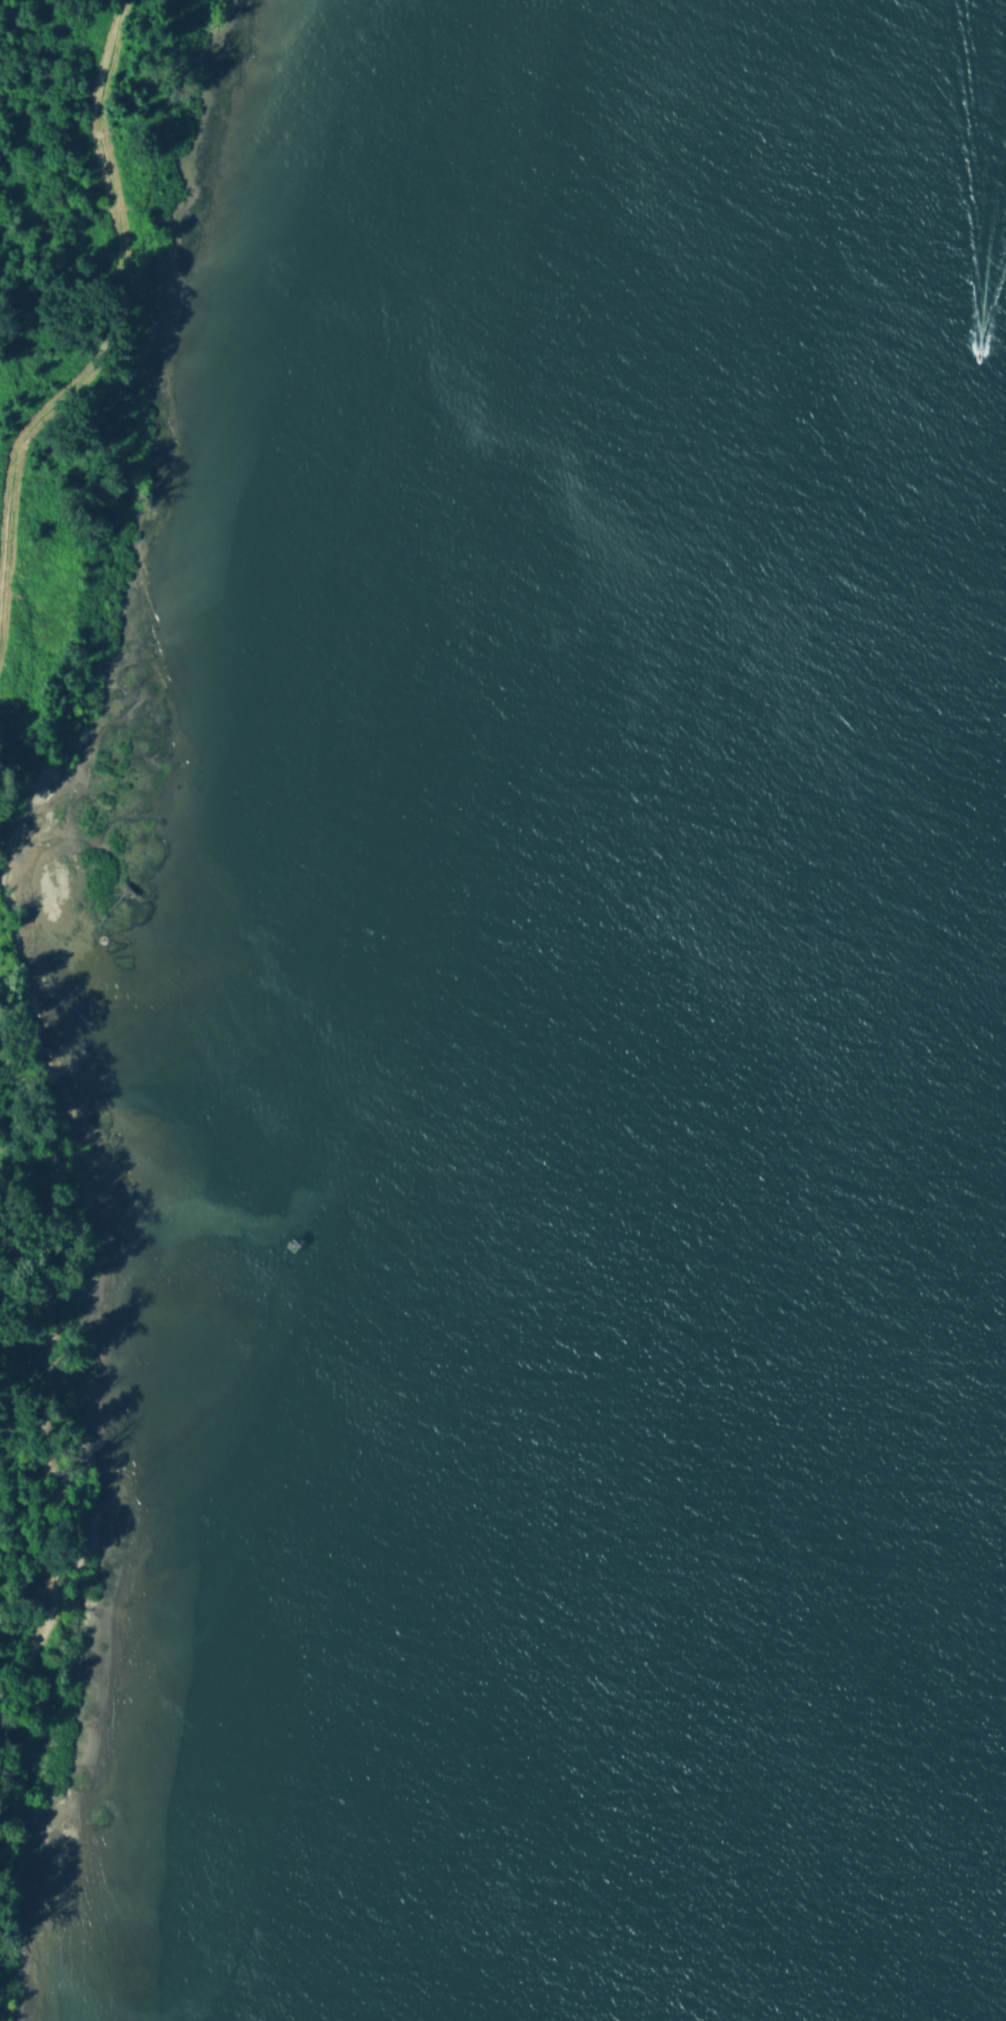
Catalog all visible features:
road: (47, 407)
road: (42, 1384)

